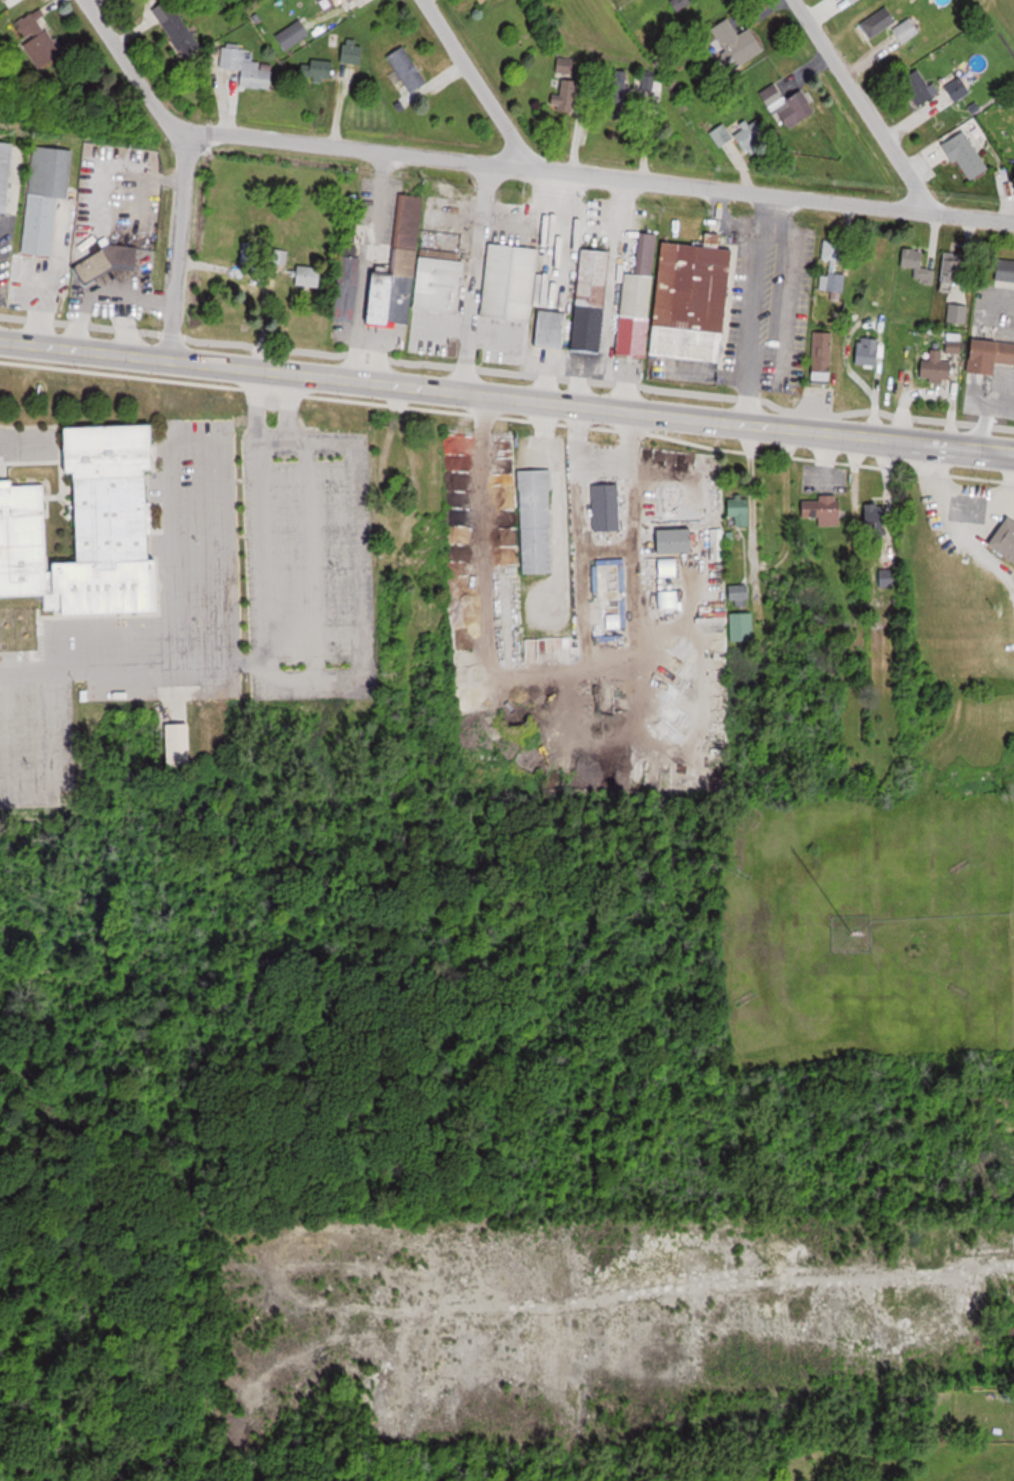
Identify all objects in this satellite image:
building: (8, 1)
building: (854, 1)
building: (349, 3)
building: (879, 22)
building: (177, 27)
building: (906, 30)
building: (293, 35)
building: (40, 40)
building: (737, 44)
building: (354, 54)
building: (566, 65)
building: (248, 68)
building: (409, 69)
building: (319, 70)
road: (134, 72)
road: (476, 81)
building: (918, 89)
building: (617, 93)
building: (567, 97)
road: (860, 103)
building: (796, 110)
building: (750, 135)
building: (967, 155)
building: (6, 174)
road: (598, 175)
building: (47, 197)
building: (833, 250)
road: (177, 252)
building: (105, 264)
building: (917, 265)
building: (953, 268)
building: (415, 274)
building: (310, 276)
building: (511, 282)
building: (639, 298)
building: (695, 300)
building: (591, 301)
building: (957, 313)
building: (553, 328)
road: (84, 352)
building: (991, 355)
building: (823, 356)
building: (937, 367)
road: (591, 406)
building: (607, 506)
building: (827, 509)
building: (876, 518)
building: (537, 520)
building: (90, 526)
building: (1006, 538)
building: (678, 539)
building: (889, 577)
building: (610, 593)
building: (739, 594)
building: (742, 626)
road: (263, 645)
building: (180, 743)
park: (98, 1159)
building: (930, 1245)
building: (936, 1297)

